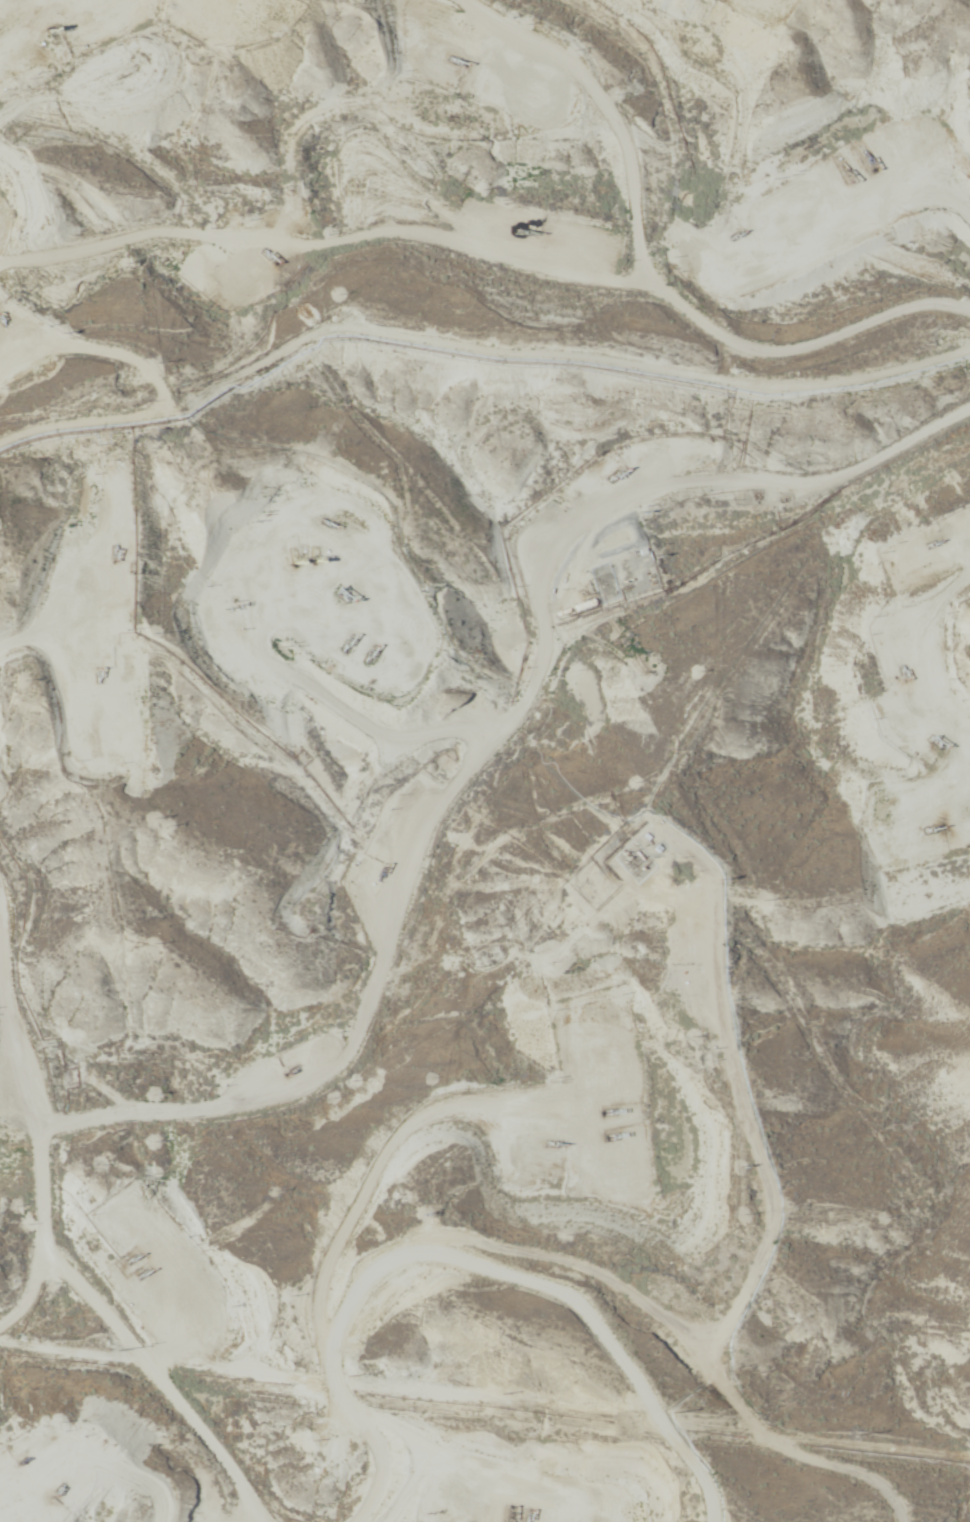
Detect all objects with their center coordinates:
road: (688, 236)
road: (154, 417)
building: (602, 584)
road: (928, 694)
road: (503, 789)
road: (871, 885)
road: (27, 1213)
road: (55, 1245)
road: (546, 1257)
road: (27, 1264)
road: (640, 1392)
road: (528, 1521)

